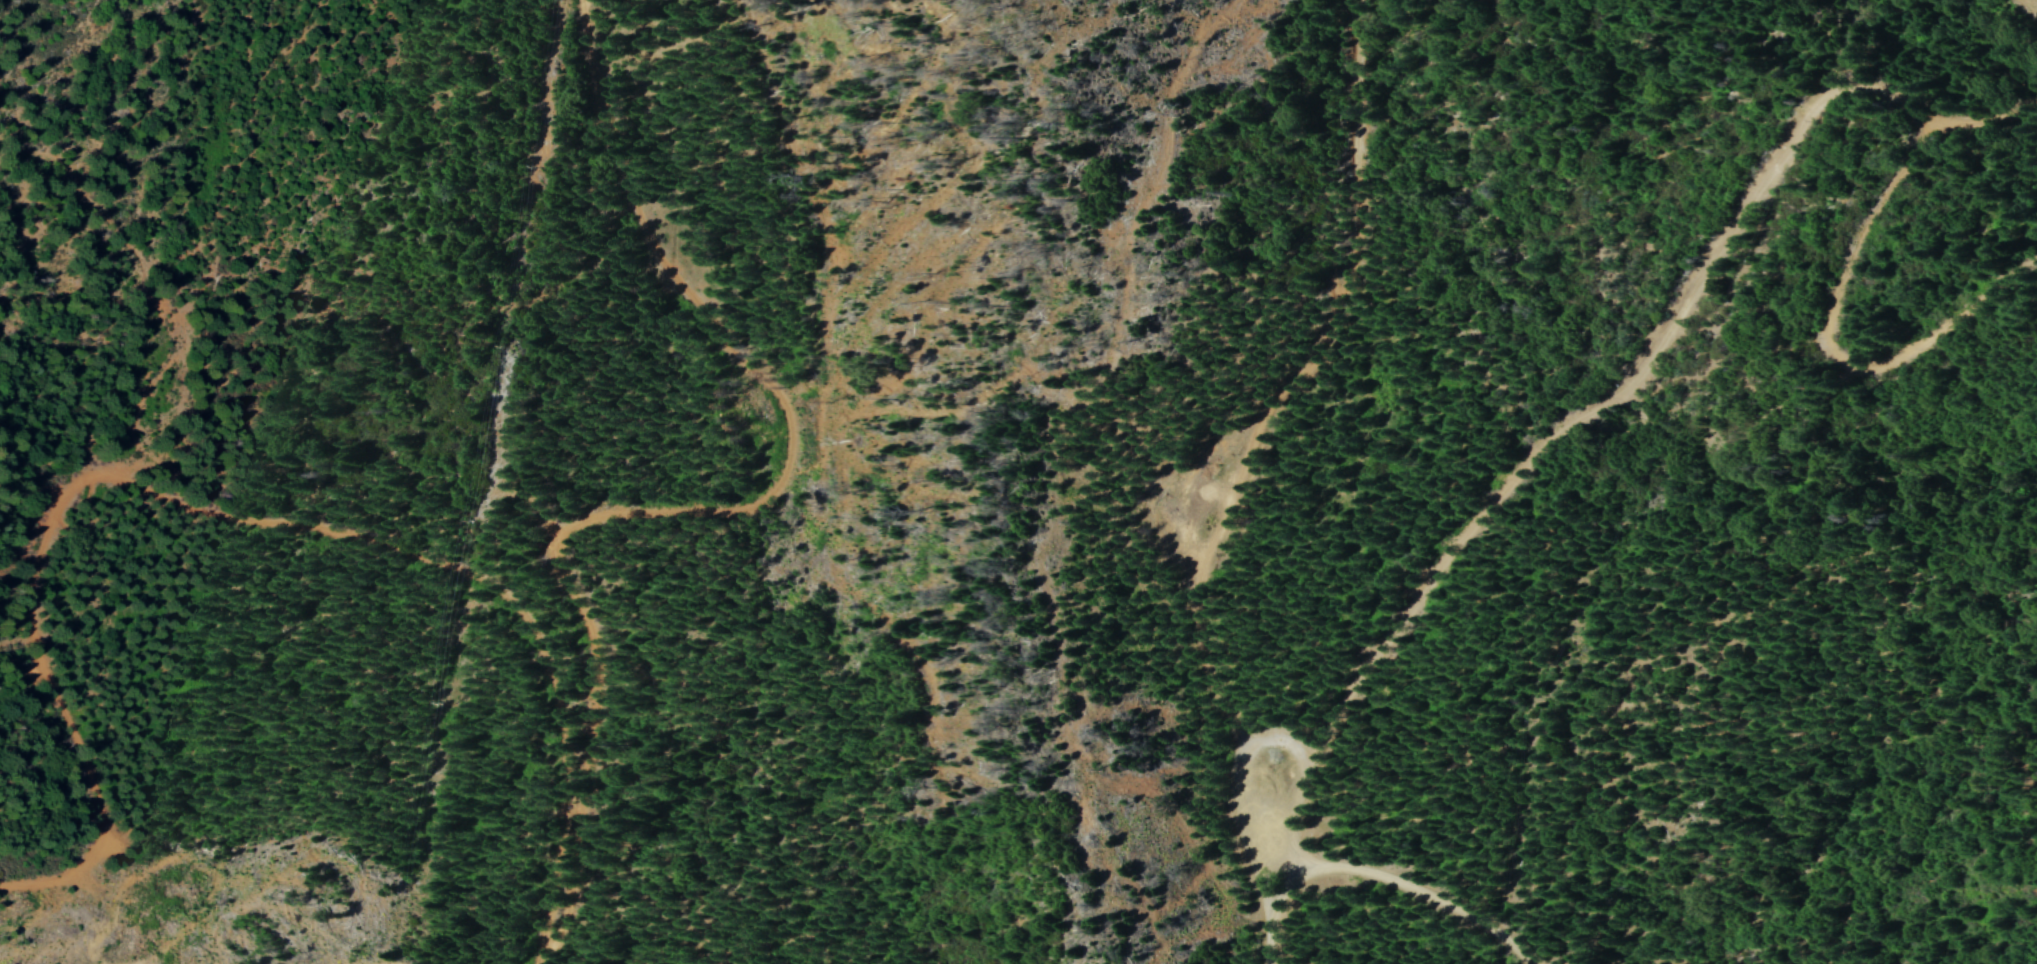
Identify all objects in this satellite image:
road: (1370, 879)

